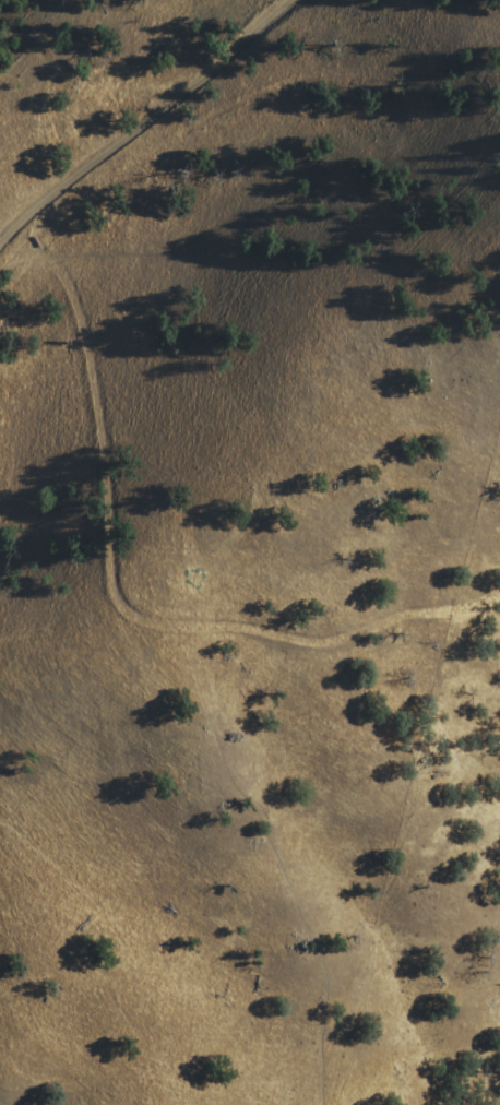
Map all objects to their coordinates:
road: (150, 124)

